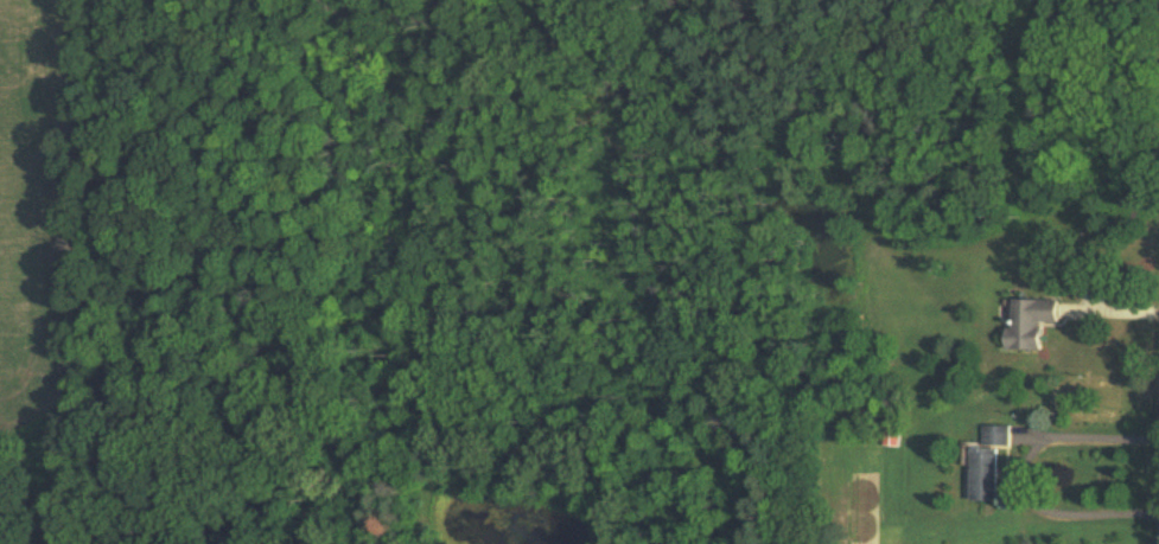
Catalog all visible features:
building: (1030, 321)
building: (996, 436)
road: (1029, 472)
building: (983, 473)

